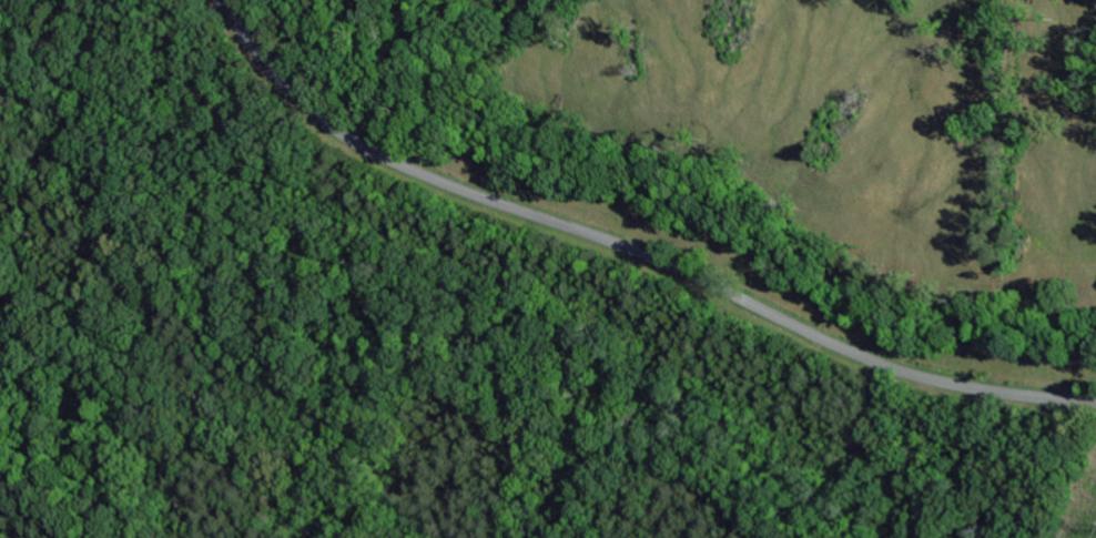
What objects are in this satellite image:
road: (628, 252)

